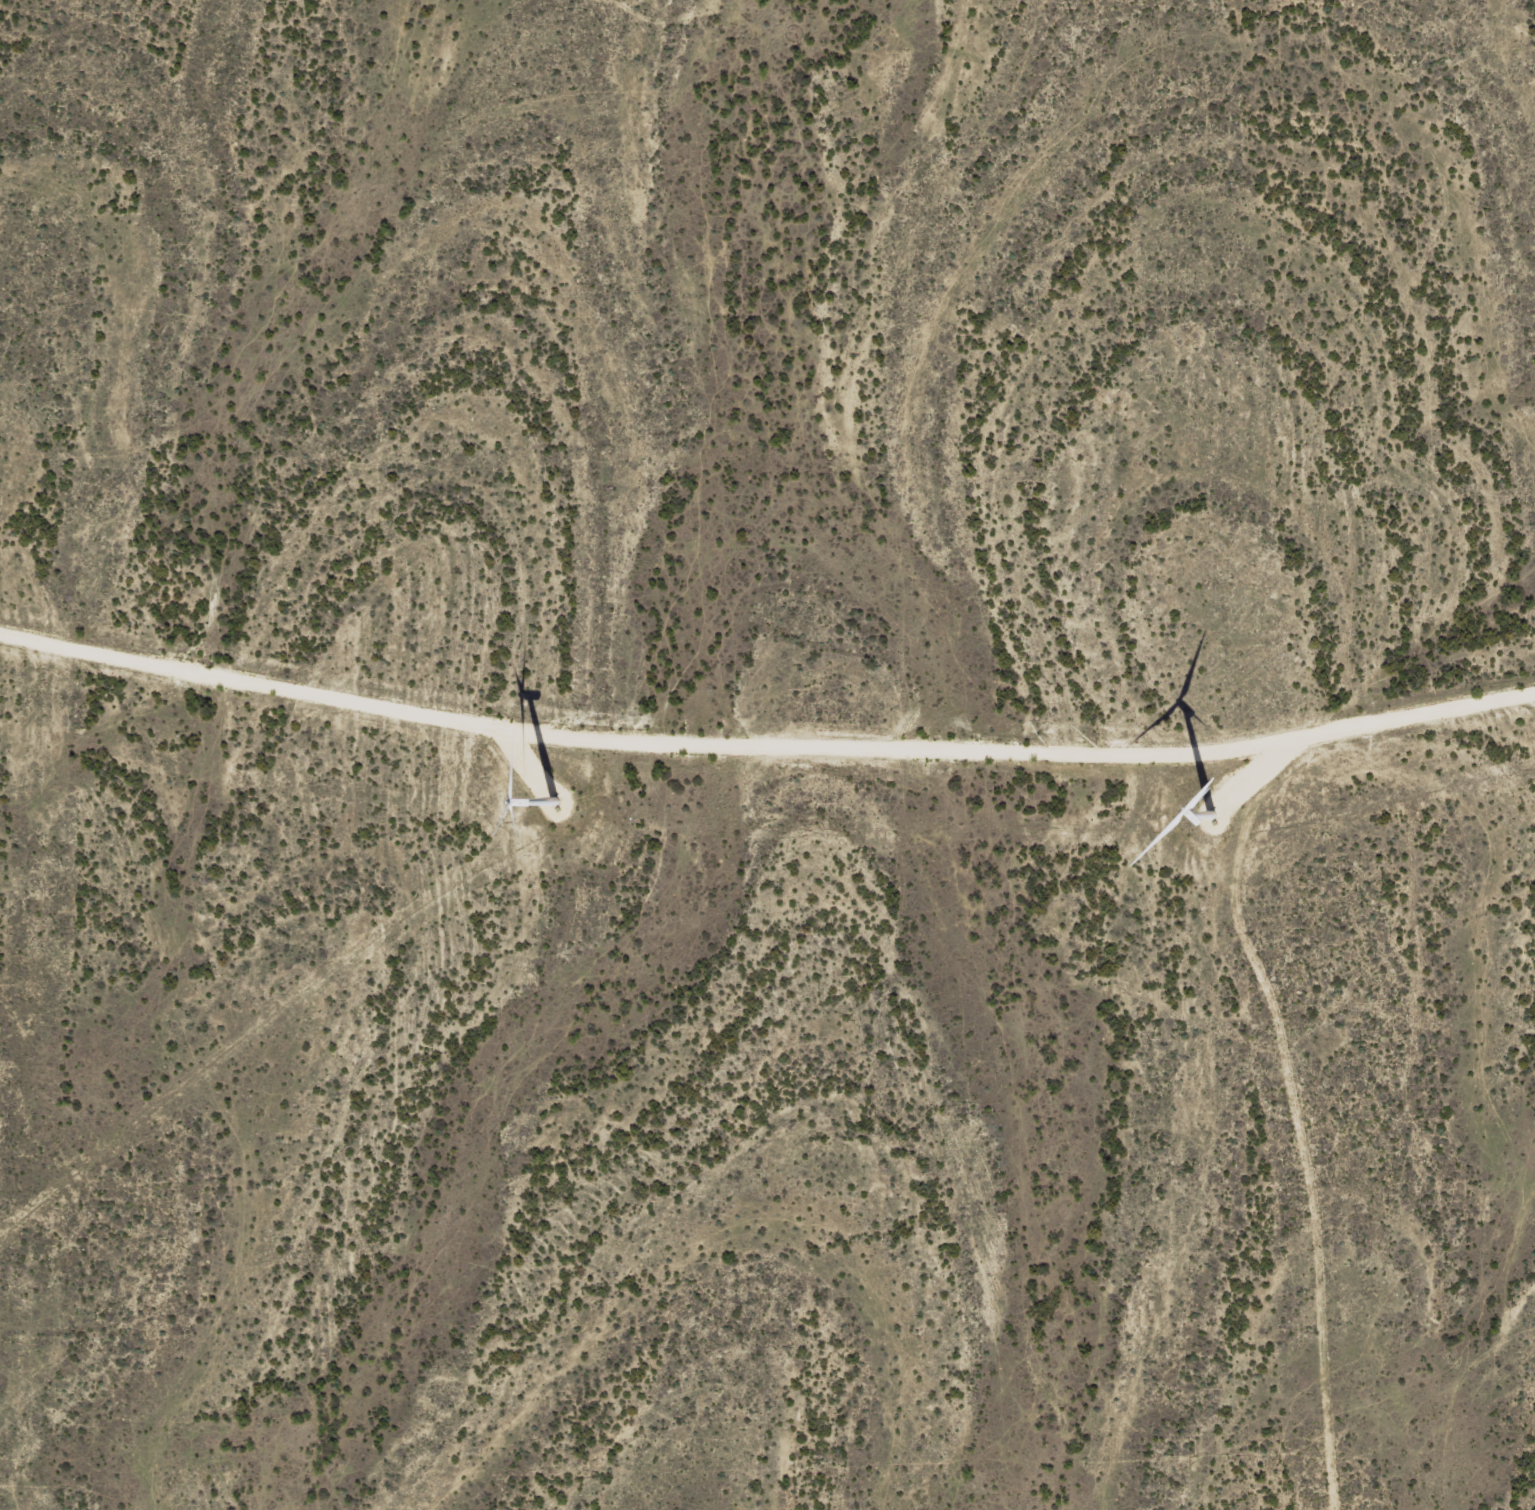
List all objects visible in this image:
road: (765, 748)
wind turbine: (554, 801)
wind turbine: (1199, 819)

